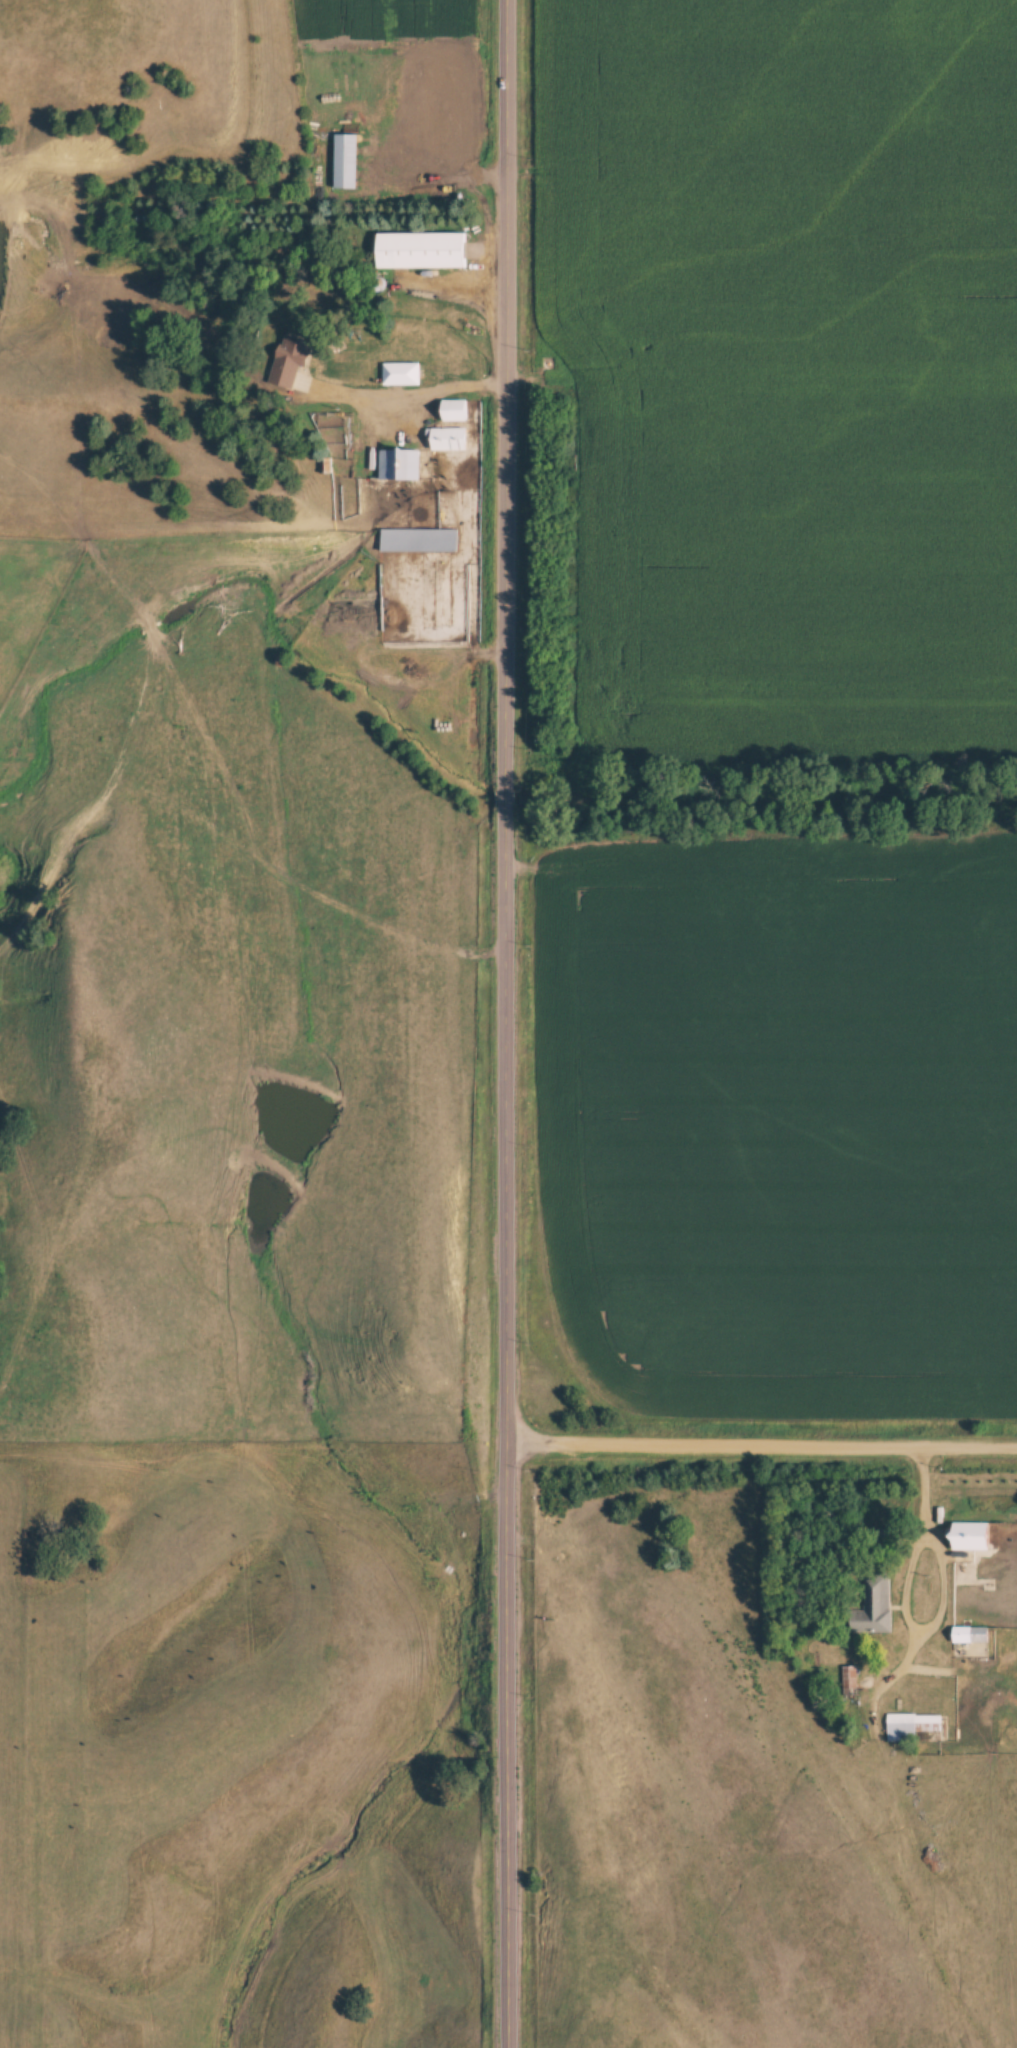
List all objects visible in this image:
building: (345, 160)
building: (418, 250)
building: (400, 373)
road: (404, 390)
building: (453, 410)
building: (400, 464)
building: (417, 538)
road: (506, 1023)
road: (762, 1444)
road: (922, 1484)
building: (970, 1537)
road: (908, 1619)

